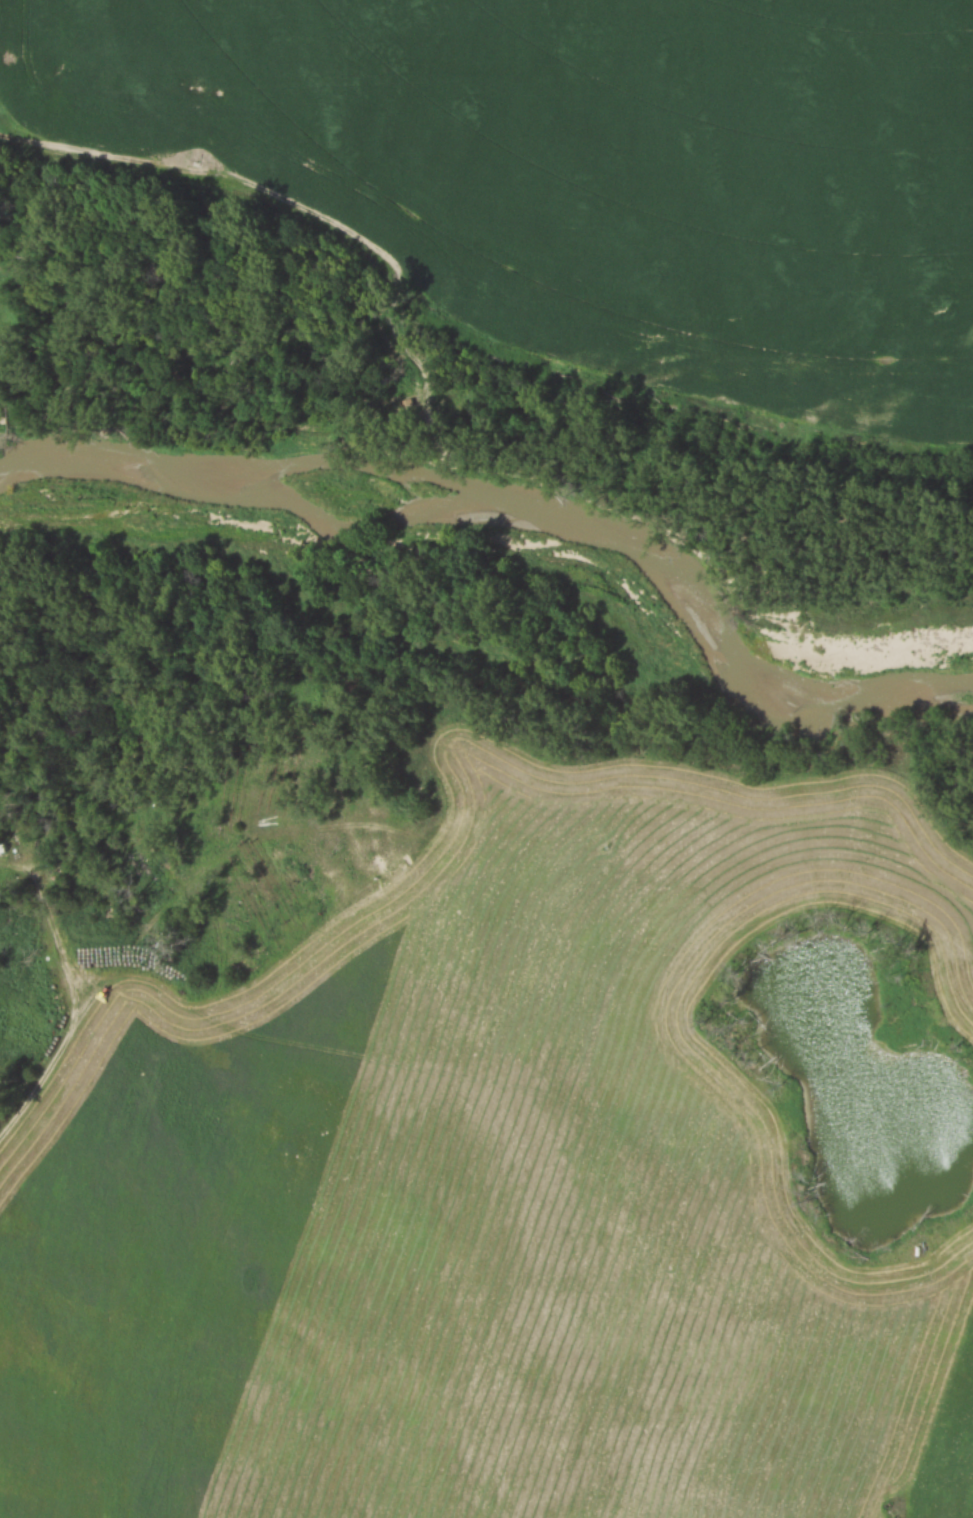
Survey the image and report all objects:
river: (525, 520)
road: (84, 1008)

